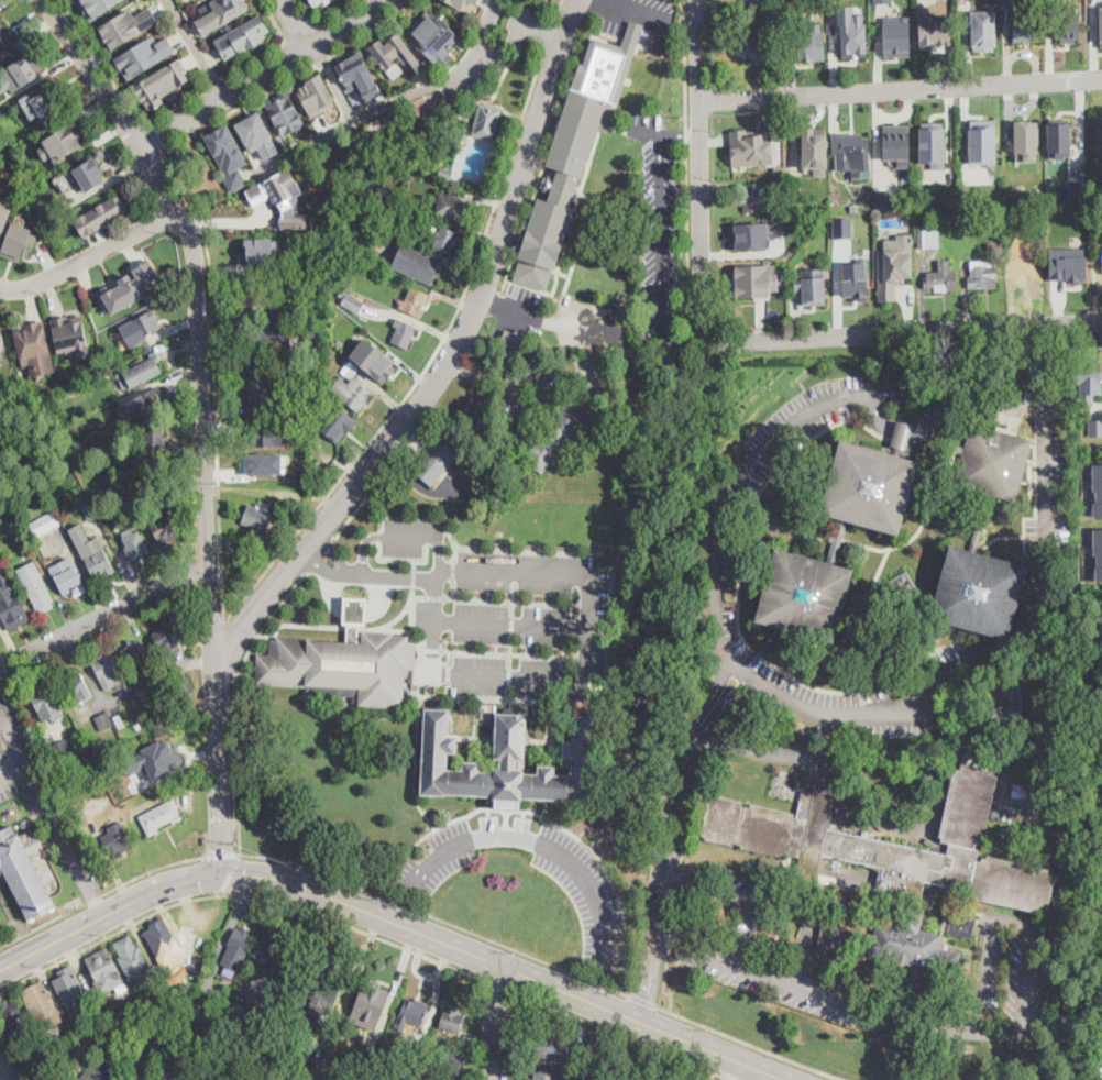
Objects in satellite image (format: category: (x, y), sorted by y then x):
road: (597, 0)
building: (316, 1)
building: (474, 1)
building: (751, 1)
building: (888, 1)
building: (459, 2)
building: (97, 7)
road: (560, 8)
road: (306, 11)
road: (630, 12)
building: (880, 12)
building: (220, 13)
road: (338, 14)
parking lot: (521, 22)
building: (128, 24)
road: (294, 24)
building: (1100, 24)
road: (540, 27)
building: (1022, 27)
building: (852, 29)
building: (933, 29)
building: (1065, 29)
building: (983, 30)
road: (368, 31)
road: (298, 32)
road: (550, 32)
building: (243, 36)
road: (329, 36)
building: (5, 37)
building: (434, 37)
building: (893, 40)
building: (807, 44)
building: (751, 47)
road: (195, 48)
road: (276, 49)
building: (144, 54)
building: (396, 54)
road: (321, 59)
road: (100, 60)
building: (24, 70)
road: (263, 75)
building: (359, 75)
building: (161, 82)
road: (332, 82)
road: (217, 84)
road: (497, 84)
road: (901, 89)
building: (316, 95)
road: (386, 103)
building: (41, 104)
road: (174, 108)
road: (236, 110)
building: (285, 113)
building: (486, 120)
building: (1100, 126)
road: (679, 133)
building: (257, 134)
building: (1062, 137)
road: (150, 139)
building: (1026, 140)
building: (60, 142)
building: (896, 143)
building: (981, 143)
building: (751, 145)
building: (933, 145)
building: (814, 147)
building: (227, 148)
building: (575, 151)
building: (851, 151)
building: (780, 169)
road: (686, 170)
building: (444, 172)
road: (701, 172)
building: (753, 174)
building: (89, 175)
building: (1077, 177)
building: (396, 190)
building: (883, 197)
building: (1073, 197)
building: (283, 198)
building: (952, 199)
building: (267, 200)
building: (759, 200)
building: (453, 206)
building: (809, 209)
building: (855, 209)
building: (110, 210)
building: (3, 213)
road: (659, 224)
building: (842, 227)
building: (752, 233)
building: (71, 238)
building: (927, 238)
building: (1014, 238)
building: (445, 240)
building: (19, 241)
building: (992, 242)
building: (254, 252)
road: (89, 255)
road: (196, 262)
building: (417, 263)
building: (894, 263)
building: (1025, 266)
building: (1069, 267)
building: (982, 275)
building: (941, 277)
building: (754, 279)
building: (855, 279)
building: (811, 285)
building: (124, 293)
building: (251, 301)
building: (414, 301)
building: (353, 302)
parking lot: (520, 309)
road: (540, 318)
parking lot: (586, 322)
building: (147, 323)
road: (903, 332)
building: (362, 333)
building: (403, 333)
building: (311, 334)
building: (70, 337)
building: (267, 339)
road: (674, 339)
building: (514, 340)
building: (548, 341)
building: (34, 348)
building: (1, 349)
building: (329, 354)
building: (110, 357)
building: (373, 360)
road: (1022, 360)
road: (448, 364)
building: (142, 370)
building: (1094, 374)
road: (503, 376)
building: (257, 385)
building: (352, 388)
building: (1100, 389)
building: (302, 395)
building: (142, 406)
building: (339, 422)
road: (930, 426)
building: (1095, 427)
building: (902, 430)
building: (265, 432)
building: (154, 437)
building: (547, 439)
road: (1048, 455)
parking lot: (1048, 459)
building: (437, 462)
building: (265, 463)
building: (1, 480)
building: (317, 482)
parking lot: (458, 484)
road: (422, 485)
building: (1097, 487)
building: (89, 511)
road: (354, 511)
building: (257, 517)
building: (45, 524)
building: (164, 529)
building: (888, 529)
road: (401, 535)
road: (453, 542)
building: (135, 544)
road: (284, 547)
building: (91, 551)
building: (1097, 552)
road: (321, 554)
road: (606, 554)
building: (1044, 554)
road: (401, 559)
road: (414, 563)
road: (453, 567)
road: (370, 572)
road: (412, 576)
building: (68, 577)
building: (903, 585)
road: (451, 586)
building: (35, 587)
road: (418, 594)
road: (433, 595)
road: (513, 596)
road: (510, 599)
building: (11, 604)
building: (352, 608)
road: (351, 609)
parking lot: (497, 611)
road: (398, 616)
road: (103, 617)
road: (511, 620)
road: (212, 621)
road: (510, 622)
road: (354, 626)
building: (352, 631)
building: (169, 635)
road: (421, 641)
road: (430, 647)
road: (509, 648)
road: (508, 651)
building: (134, 654)
road: (449, 655)
building: (339, 664)
building: (107, 670)
road: (449, 672)
road: (419, 674)
road: (508, 674)
building: (180, 675)
road: (585, 681)
road: (759, 683)
building: (76, 686)
road: (418, 688)
road: (447, 688)
road: (507, 691)
road: (511, 698)
road: (235, 701)
building: (46, 703)
road: (355, 713)
building: (181, 718)
building: (104, 721)
building: (120, 721)
building: (145, 723)
building: (139, 726)
road: (10, 735)
building: (63, 750)
building: (112, 754)
building: (161, 758)
road: (10, 759)
building: (106, 759)
building: (511, 762)
road: (415, 763)
building: (104, 772)
road: (221, 774)
road: (900, 778)
building: (91, 780)
building: (1025, 792)
parking lot: (40, 793)
road: (690, 805)
building: (161, 816)
building: (995, 816)
road: (548, 819)
road: (53, 822)
building: (118, 839)
road: (675, 841)
road: (546, 842)
traffic signals: (224, 848)
road: (222, 853)
building: (894, 867)
building: (24, 871)
road: (231, 873)
traffic signals: (245, 873)
road: (679, 873)
traffic signals: (199, 878)
road: (110, 888)
road: (239, 893)
road: (745, 894)
road: (870, 894)
building: (852, 896)
parking lot: (727, 900)
road: (97, 901)
parking lot: (596, 902)
road: (403, 905)
road: (674, 905)
building: (851, 907)
road: (365, 911)
road: (109, 912)
road: (437, 917)
road: (1010, 918)
road: (669, 937)
building: (163, 938)
building: (238, 947)
road: (802, 947)
building: (267, 951)
building: (131, 958)
building: (106, 972)
road: (425, 974)
building: (291, 978)
road: (397, 981)
road: (663, 982)
parking lot: (784, 983)
building: (68, 987)
road: (499, 988)
parking lot: (1002, 989)
road: (599, 991)
road: (572, 994)
building: (322, 998)
road: (643, 1000)
road: (842, 1003)
building: (370, 1004)
building: (42, 1005)
building: (197, 1005)
building: (411, 1013)
building: (10, 1016)
building: (119, 1016)
building: (452, 1020)
building: (122, 1022)
road: (497, 1022)
building: (241, 1026)
building: (55, 1032)
road: (624, 1036)
building: (439, 1040)
building: (155, 1042)
building: (219, 1042)
building: (275, 1042)
road: (752, 1044)
building: (552, 1046)
building: (117, 1050)
road: (712, 1051)
road: (911, 1054)
building: (410, 1059)
building: (173, 1062)
building: (317, 1066)
building: (372, 1066)
road: (7, 1069)
building: (448, 1069)
building: (89, 1073)
building: (289, 1073)
building: (546, 1076)
building: (633, 1077)
building: (118, 1079)
building: (125, 1079)
building: (307, 1079)

